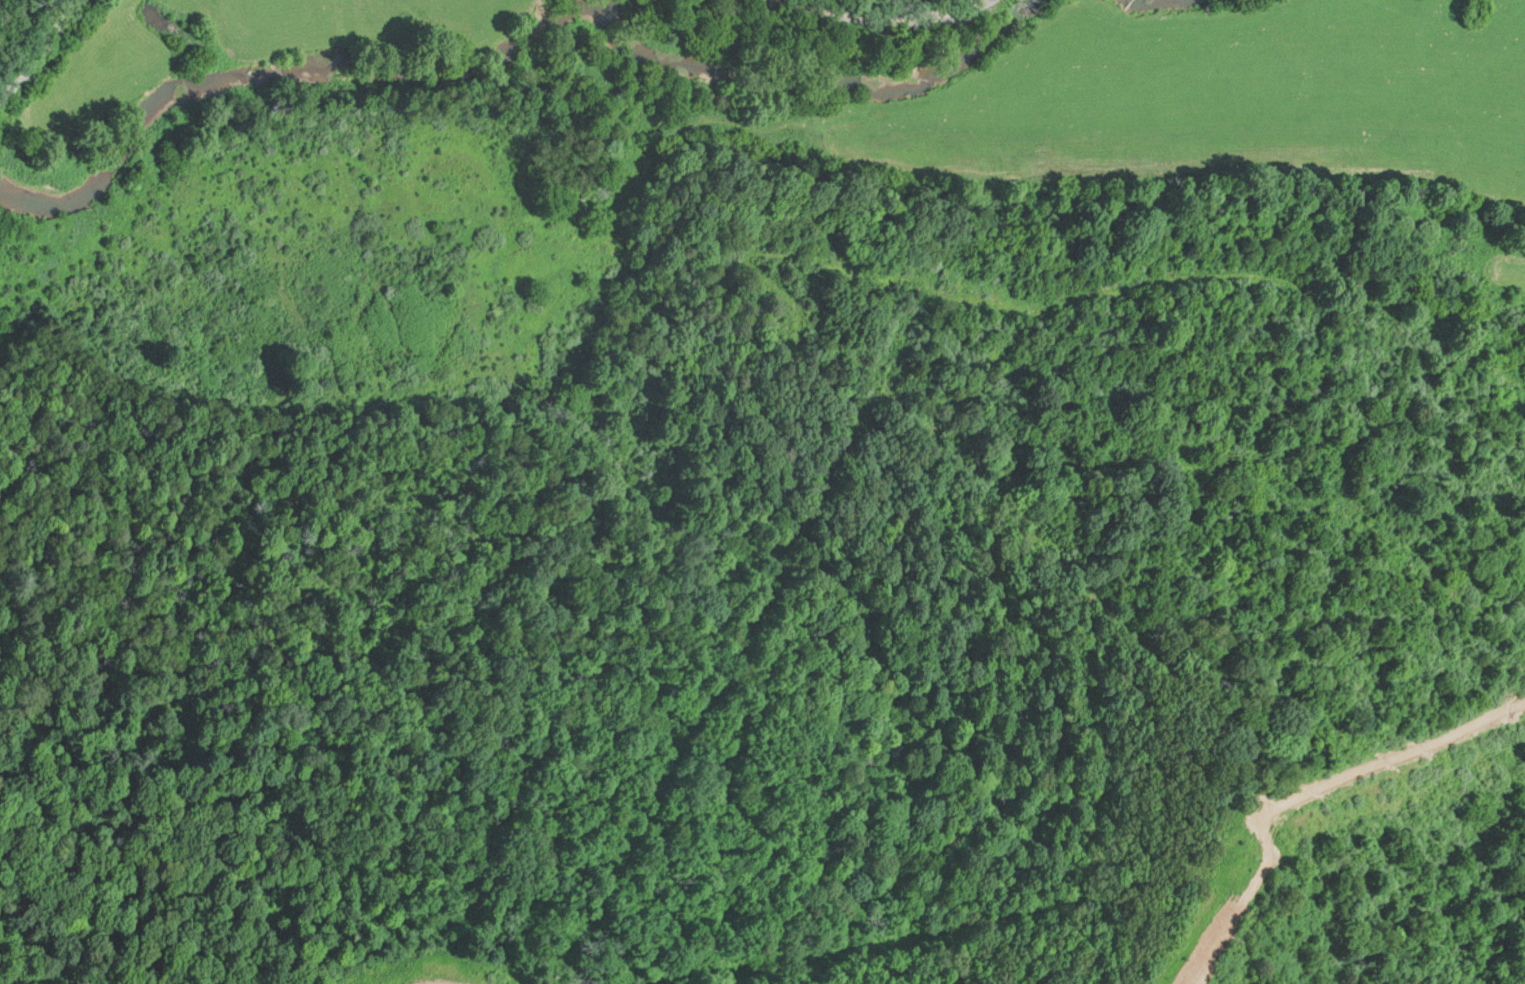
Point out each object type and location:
road: (887, 14)
river: (992, 33)
road: (43, 48)

